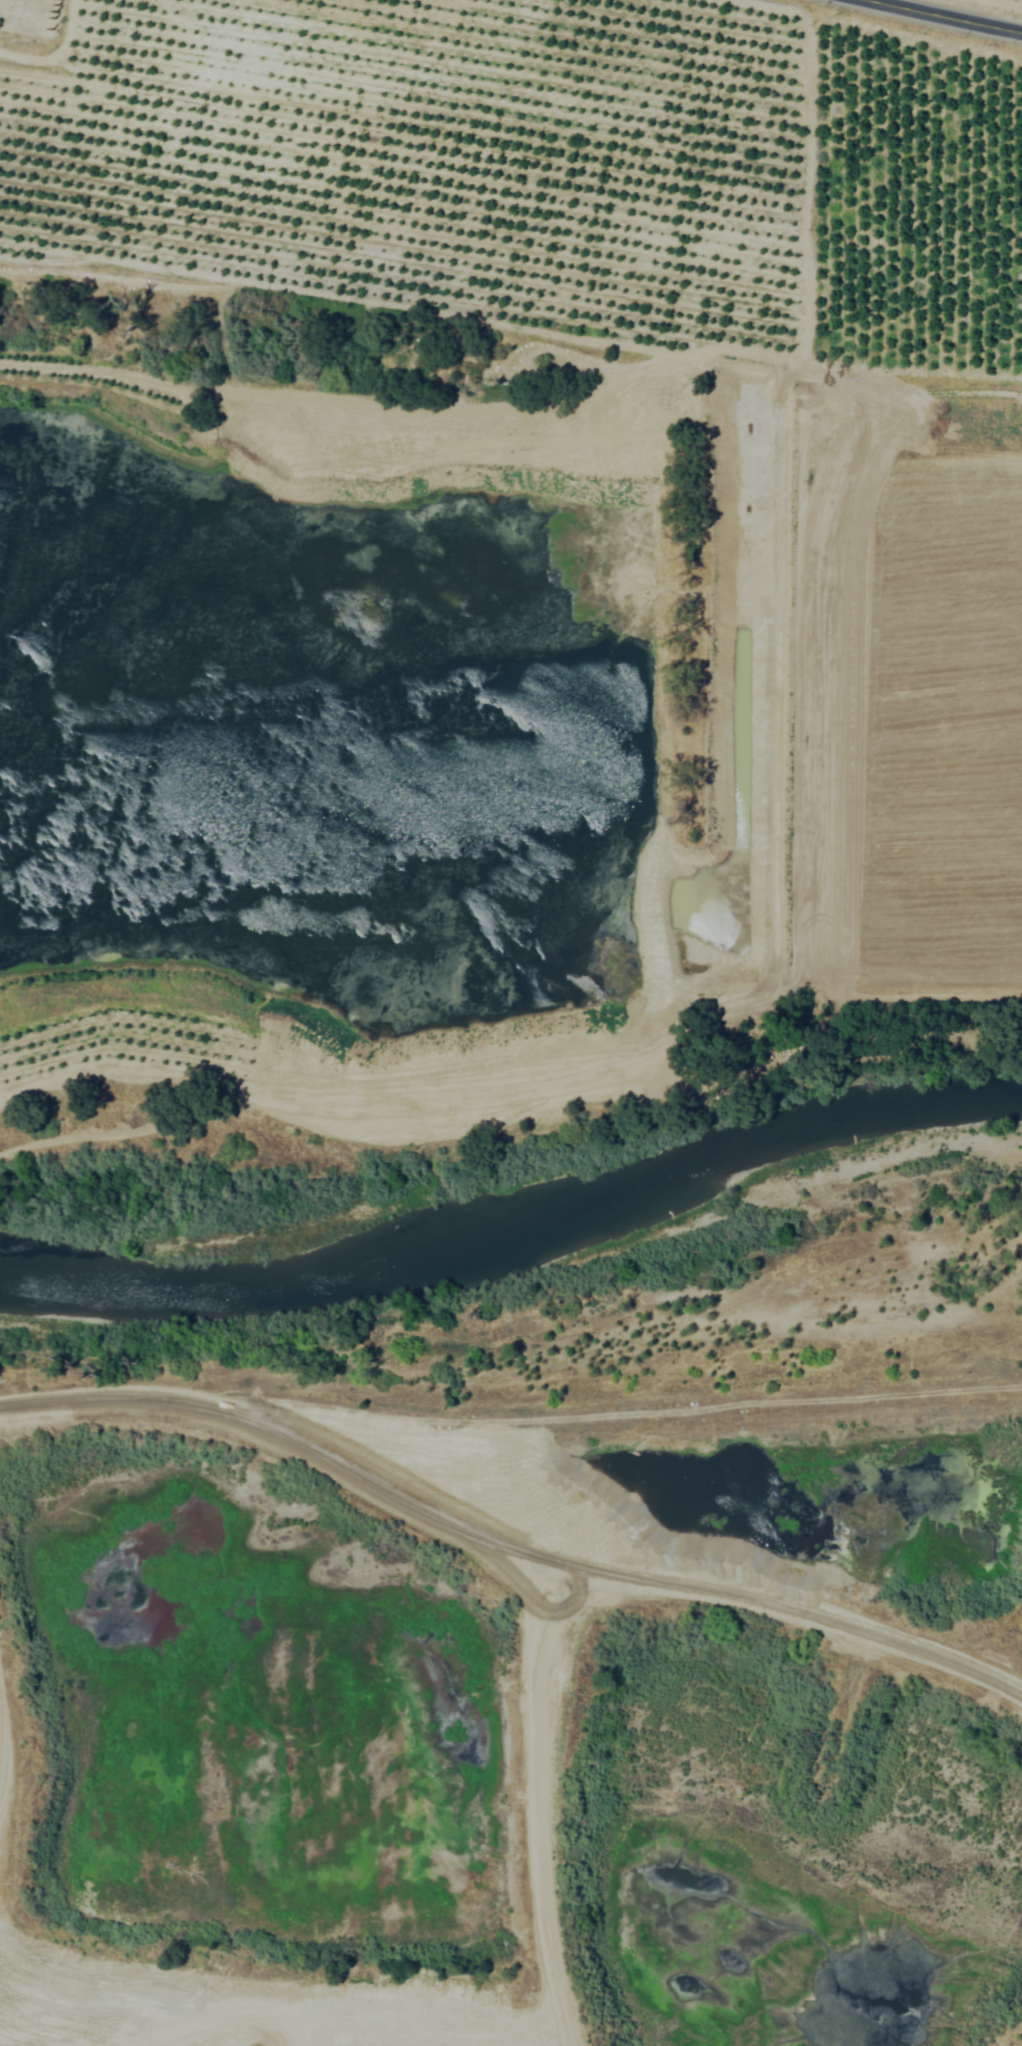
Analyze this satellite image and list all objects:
crop: (961, 12)
road: (947, 15)
park: (30, 19)
crop: (339, 154)
river: (513, 1230)

